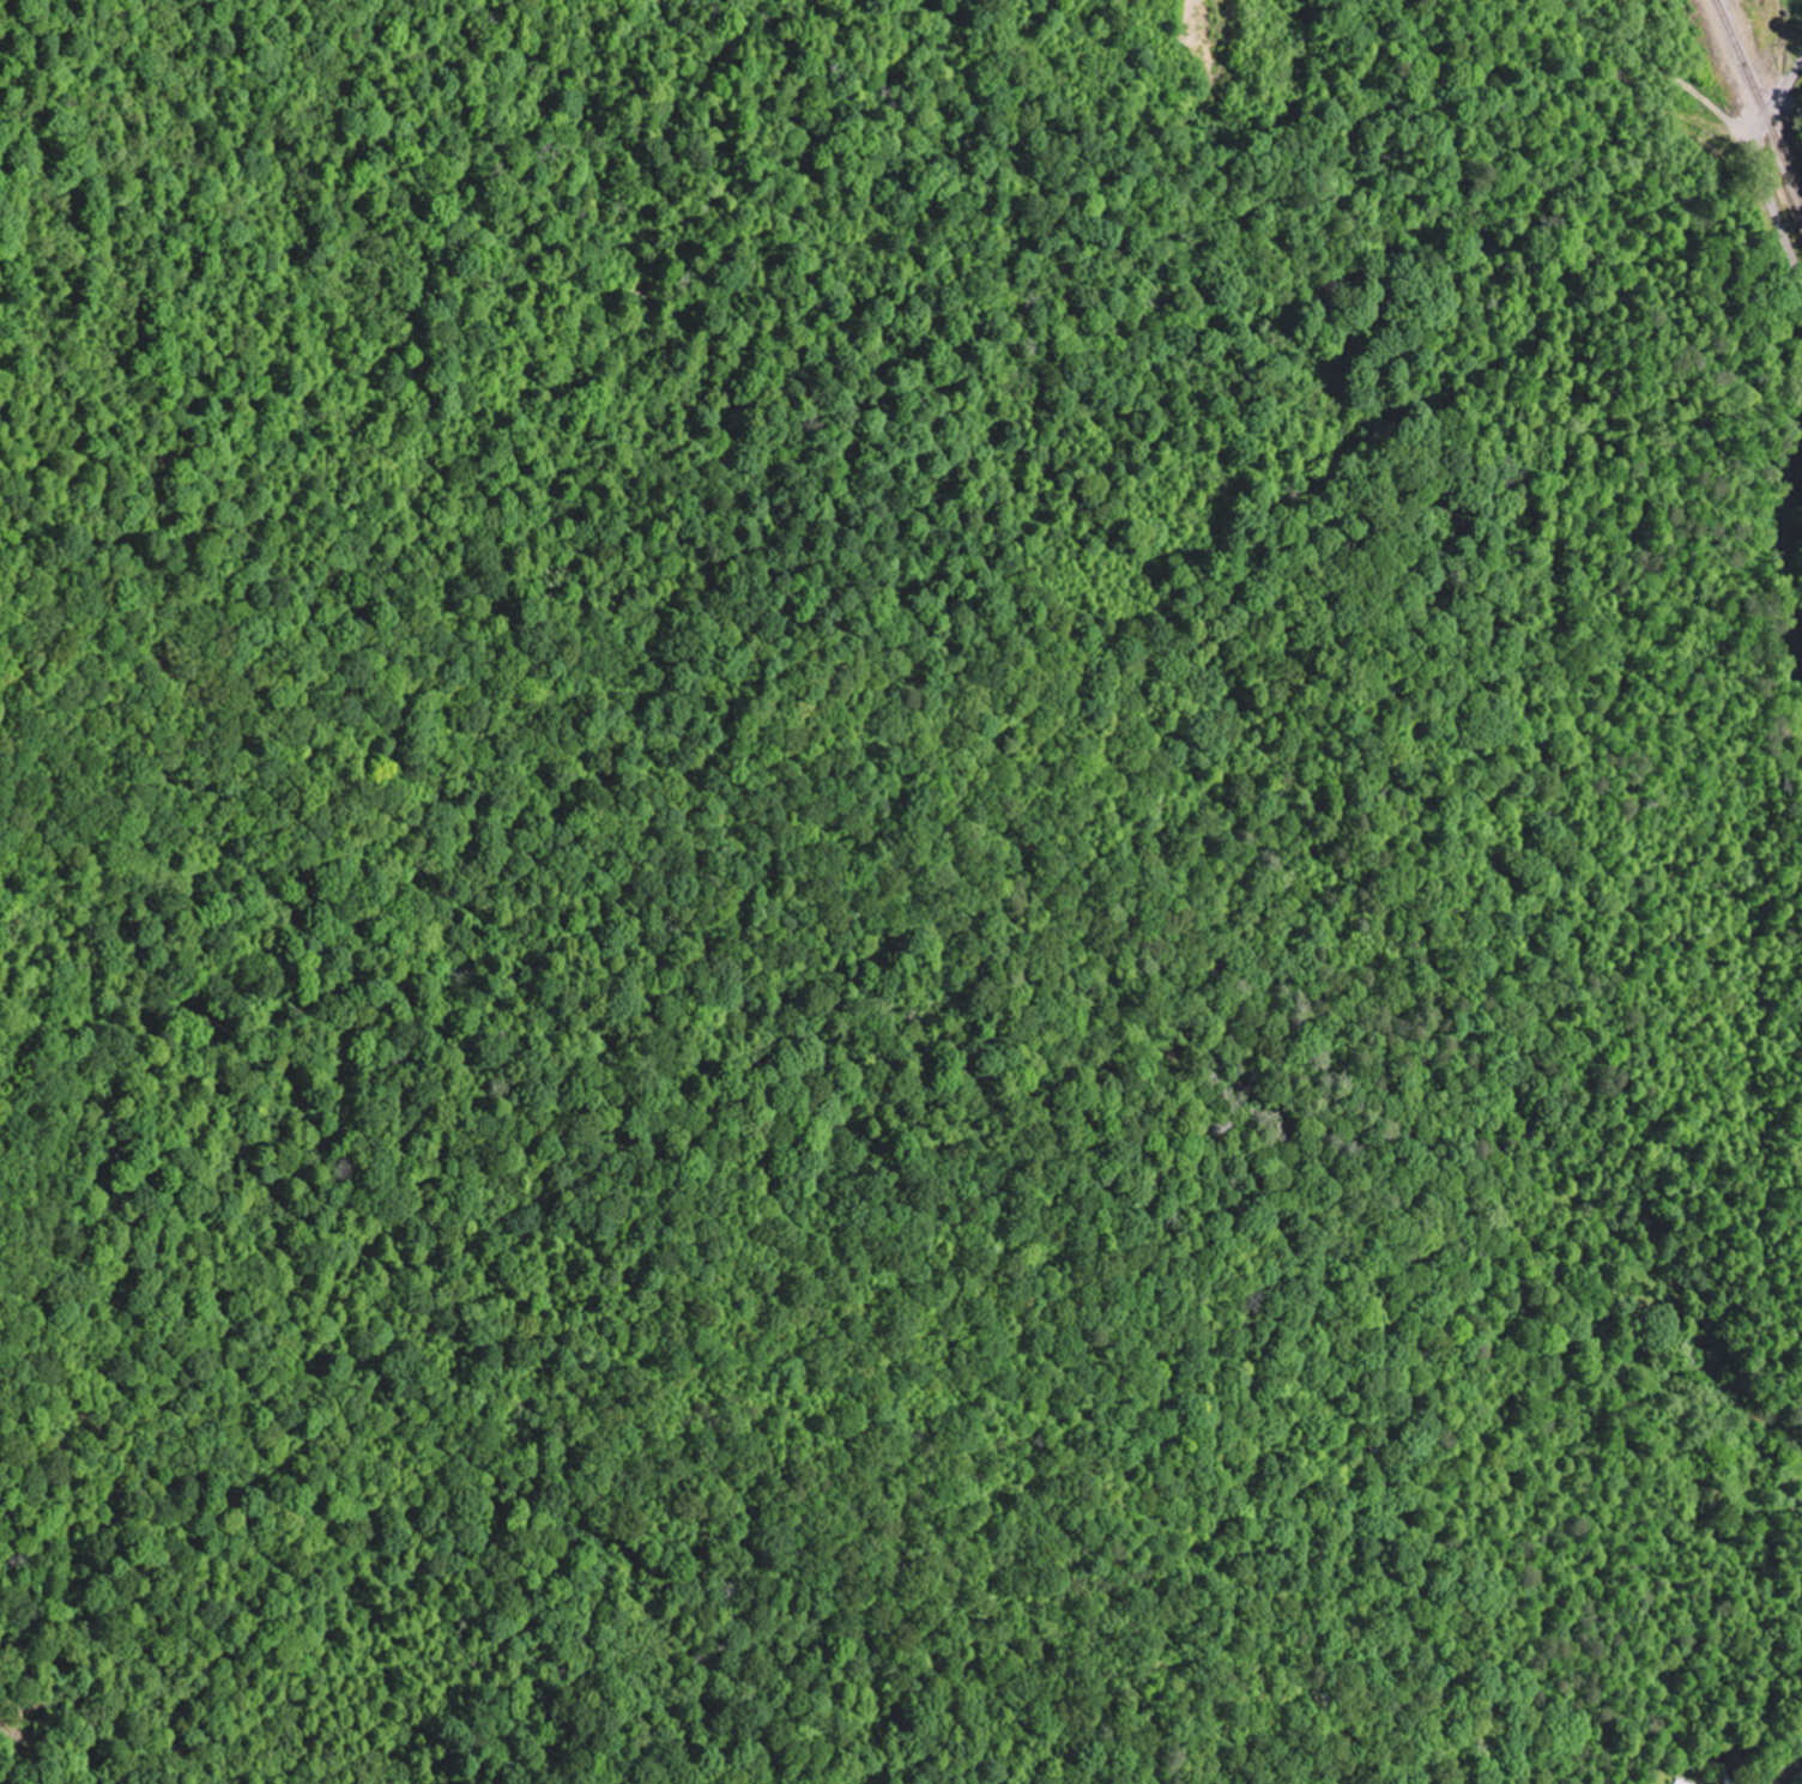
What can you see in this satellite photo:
road: (1658, 66)
railway: (1754, 99)
road: (1753, 162)
road: (1795, 527)
railway: (1790, 1768)
building: (1682, 1782)

